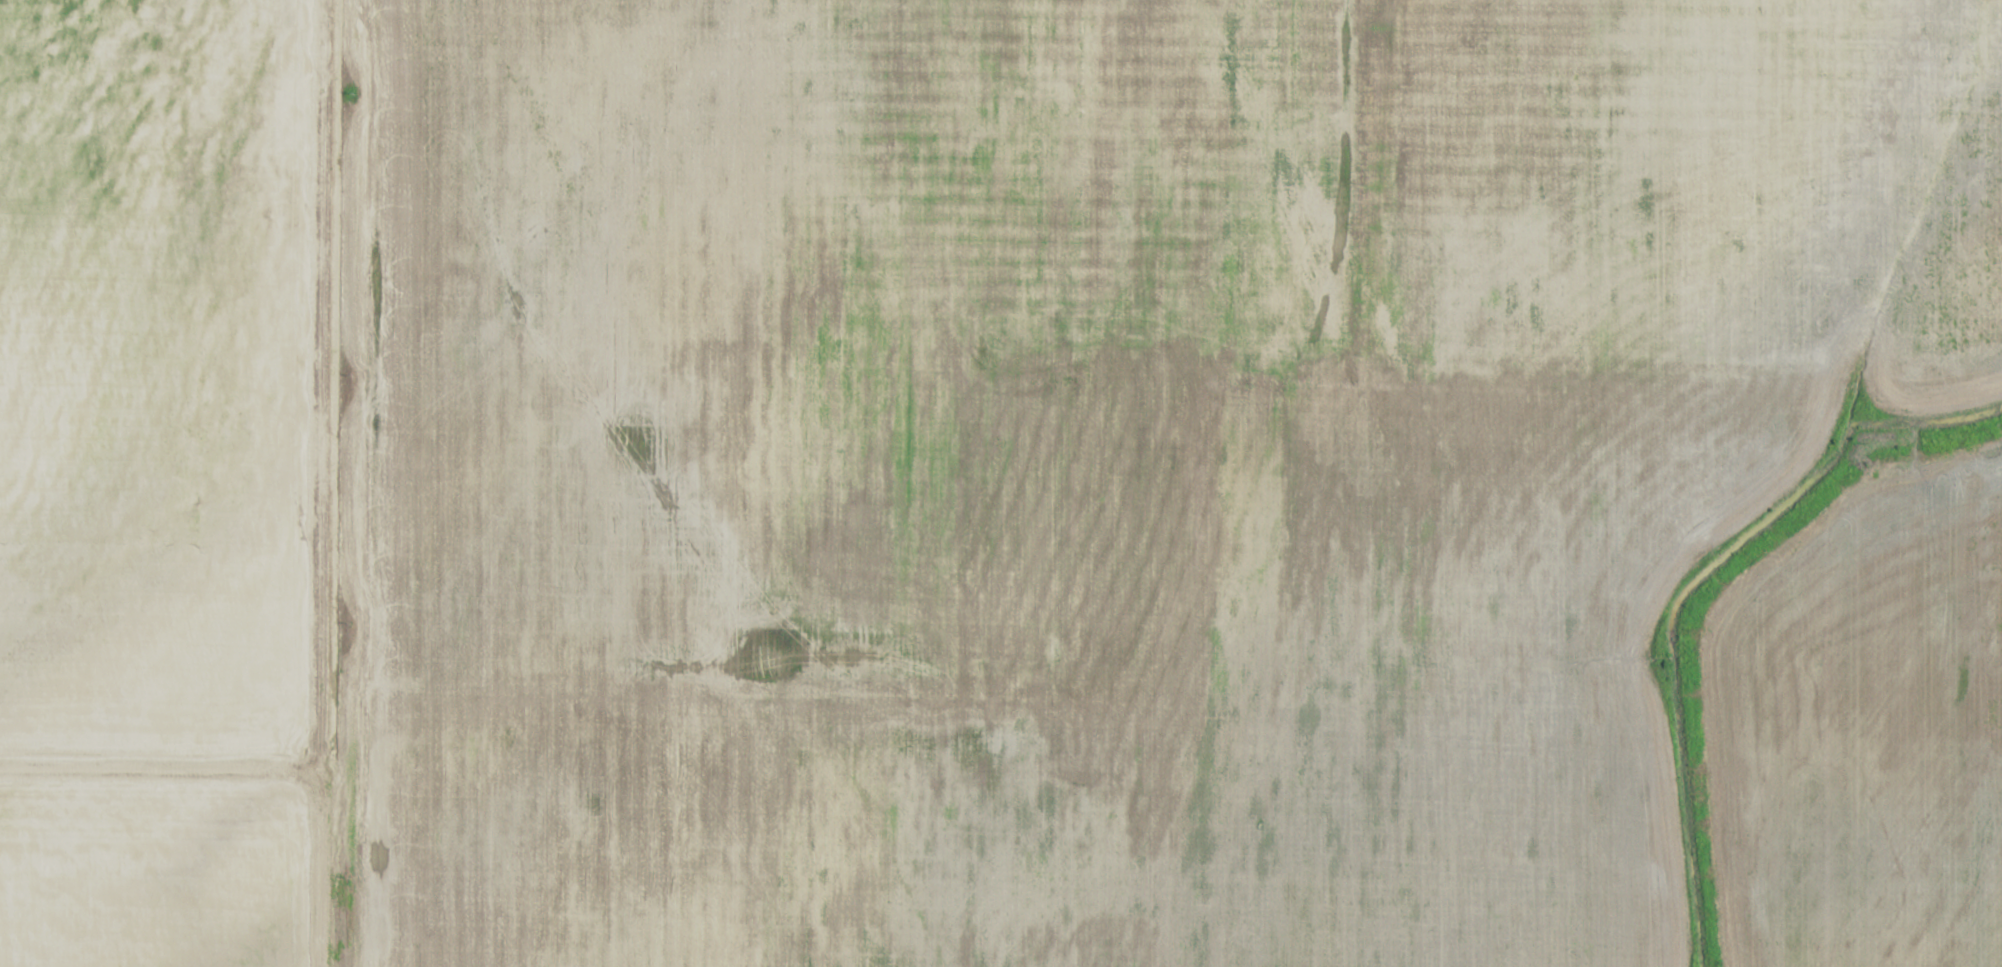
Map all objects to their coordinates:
road: (359, 483)

